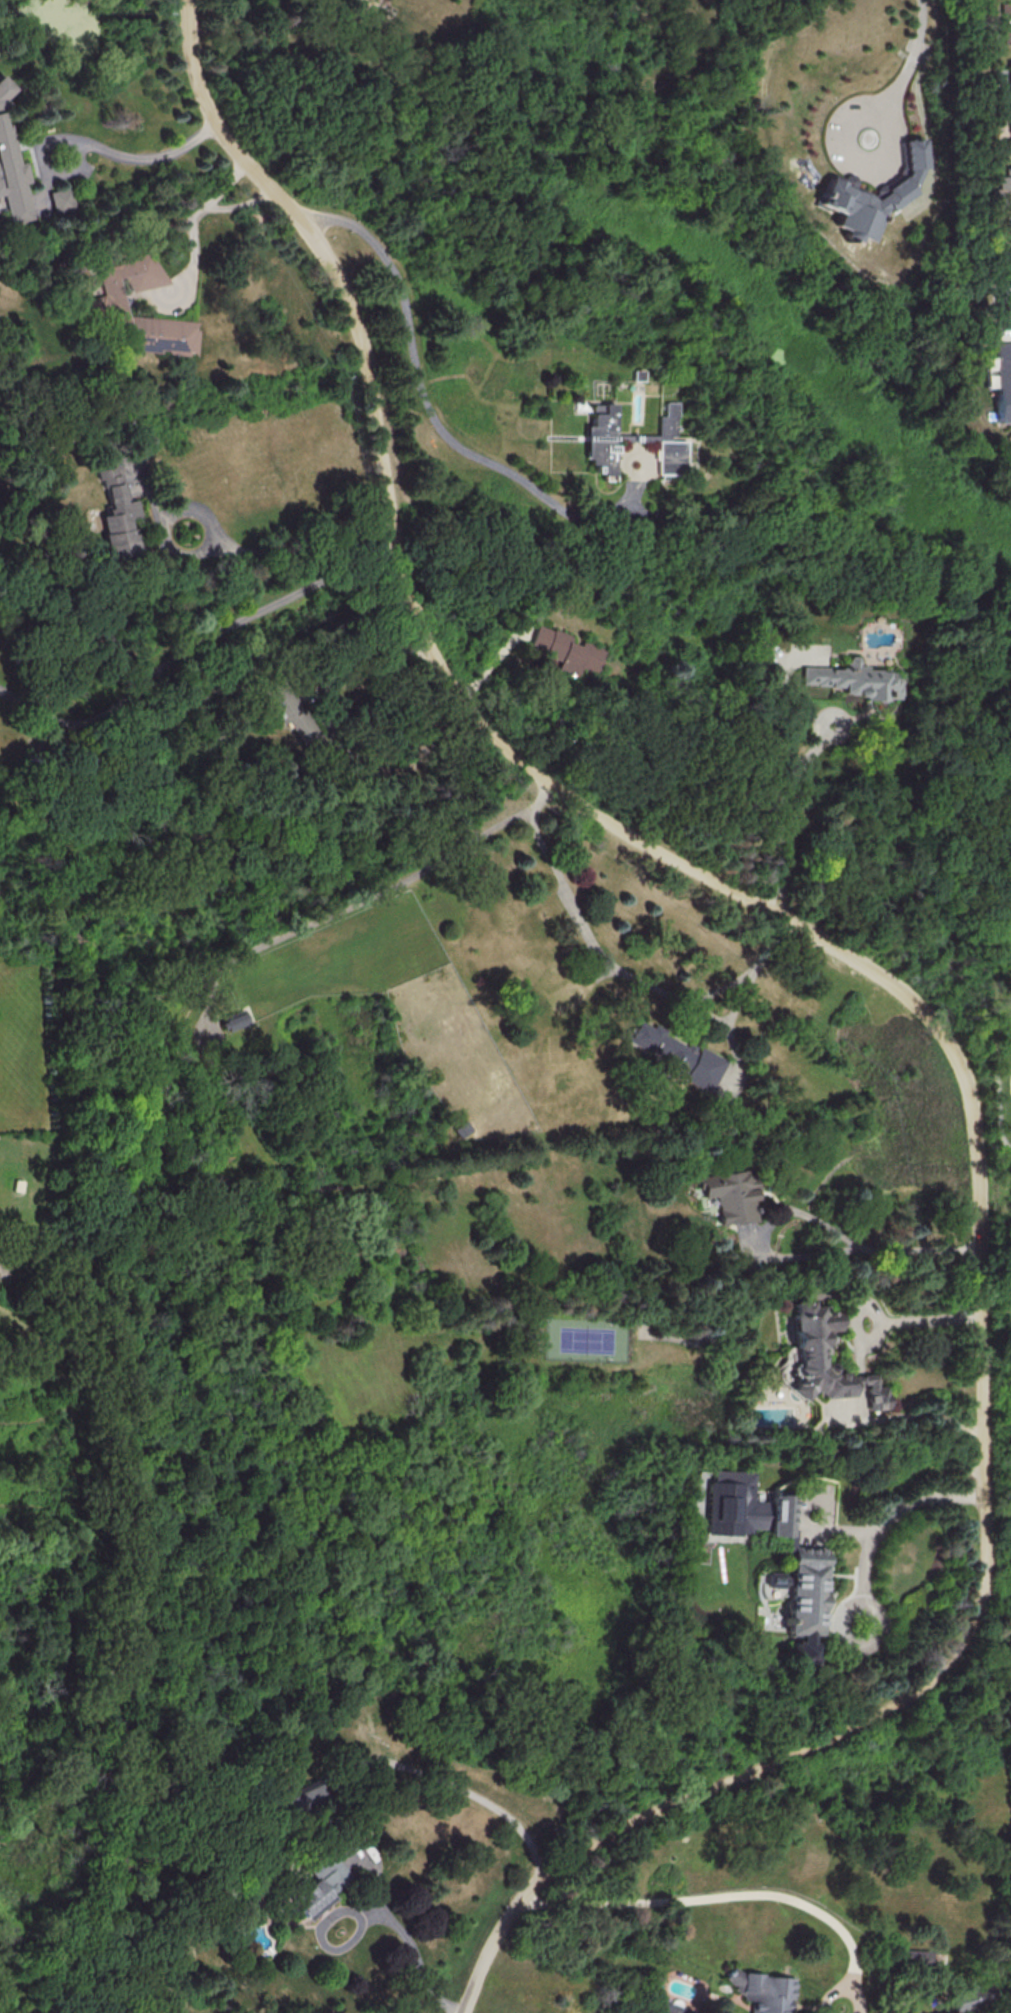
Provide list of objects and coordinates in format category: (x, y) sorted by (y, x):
building: (1006, 21)
road: (912, 59)
building: (1010, 78)
building: (1010, 127)
road: (141, 156)
road: (855, 162)
building: (12, 176)
road: (226, 186)
building: (841, 188)
building: (1002, 191)
building: (59, 199)
road: (194, 223)
building: (1005, 298)
building: (102, 306)
road: (424, 396)
building: (601, 439)
building: (668, 442)
building: (116, 513)
road: (290, 552)
road: (193, 642)
road: (363, 645)
building: (565, 650)
building: (854, 679)
building: (296, 715)
road: (780, 812)
park: (998, 954)
road: (616, 965)
road: (911, 998)
building: (233, 1020)
building: (675, 1053)
road: (998, 1103)
building: (730, 1194)
road: (810, 1215)
road: (930, 1317)
road: (871, 1331)
building: (805, 1356)
building: (735, 1502)
building: (779, 1515)
road: (892, 1516)
building: (805, 1601)
road: (460, 1785)
building: (302, 1797)
building: (320, 1885)
road: (717, 1898)
road: (403, 1936)
building: (914, 1959)
road: (841, 1988)
building: (763, 1991)
building: (968, 1999)

